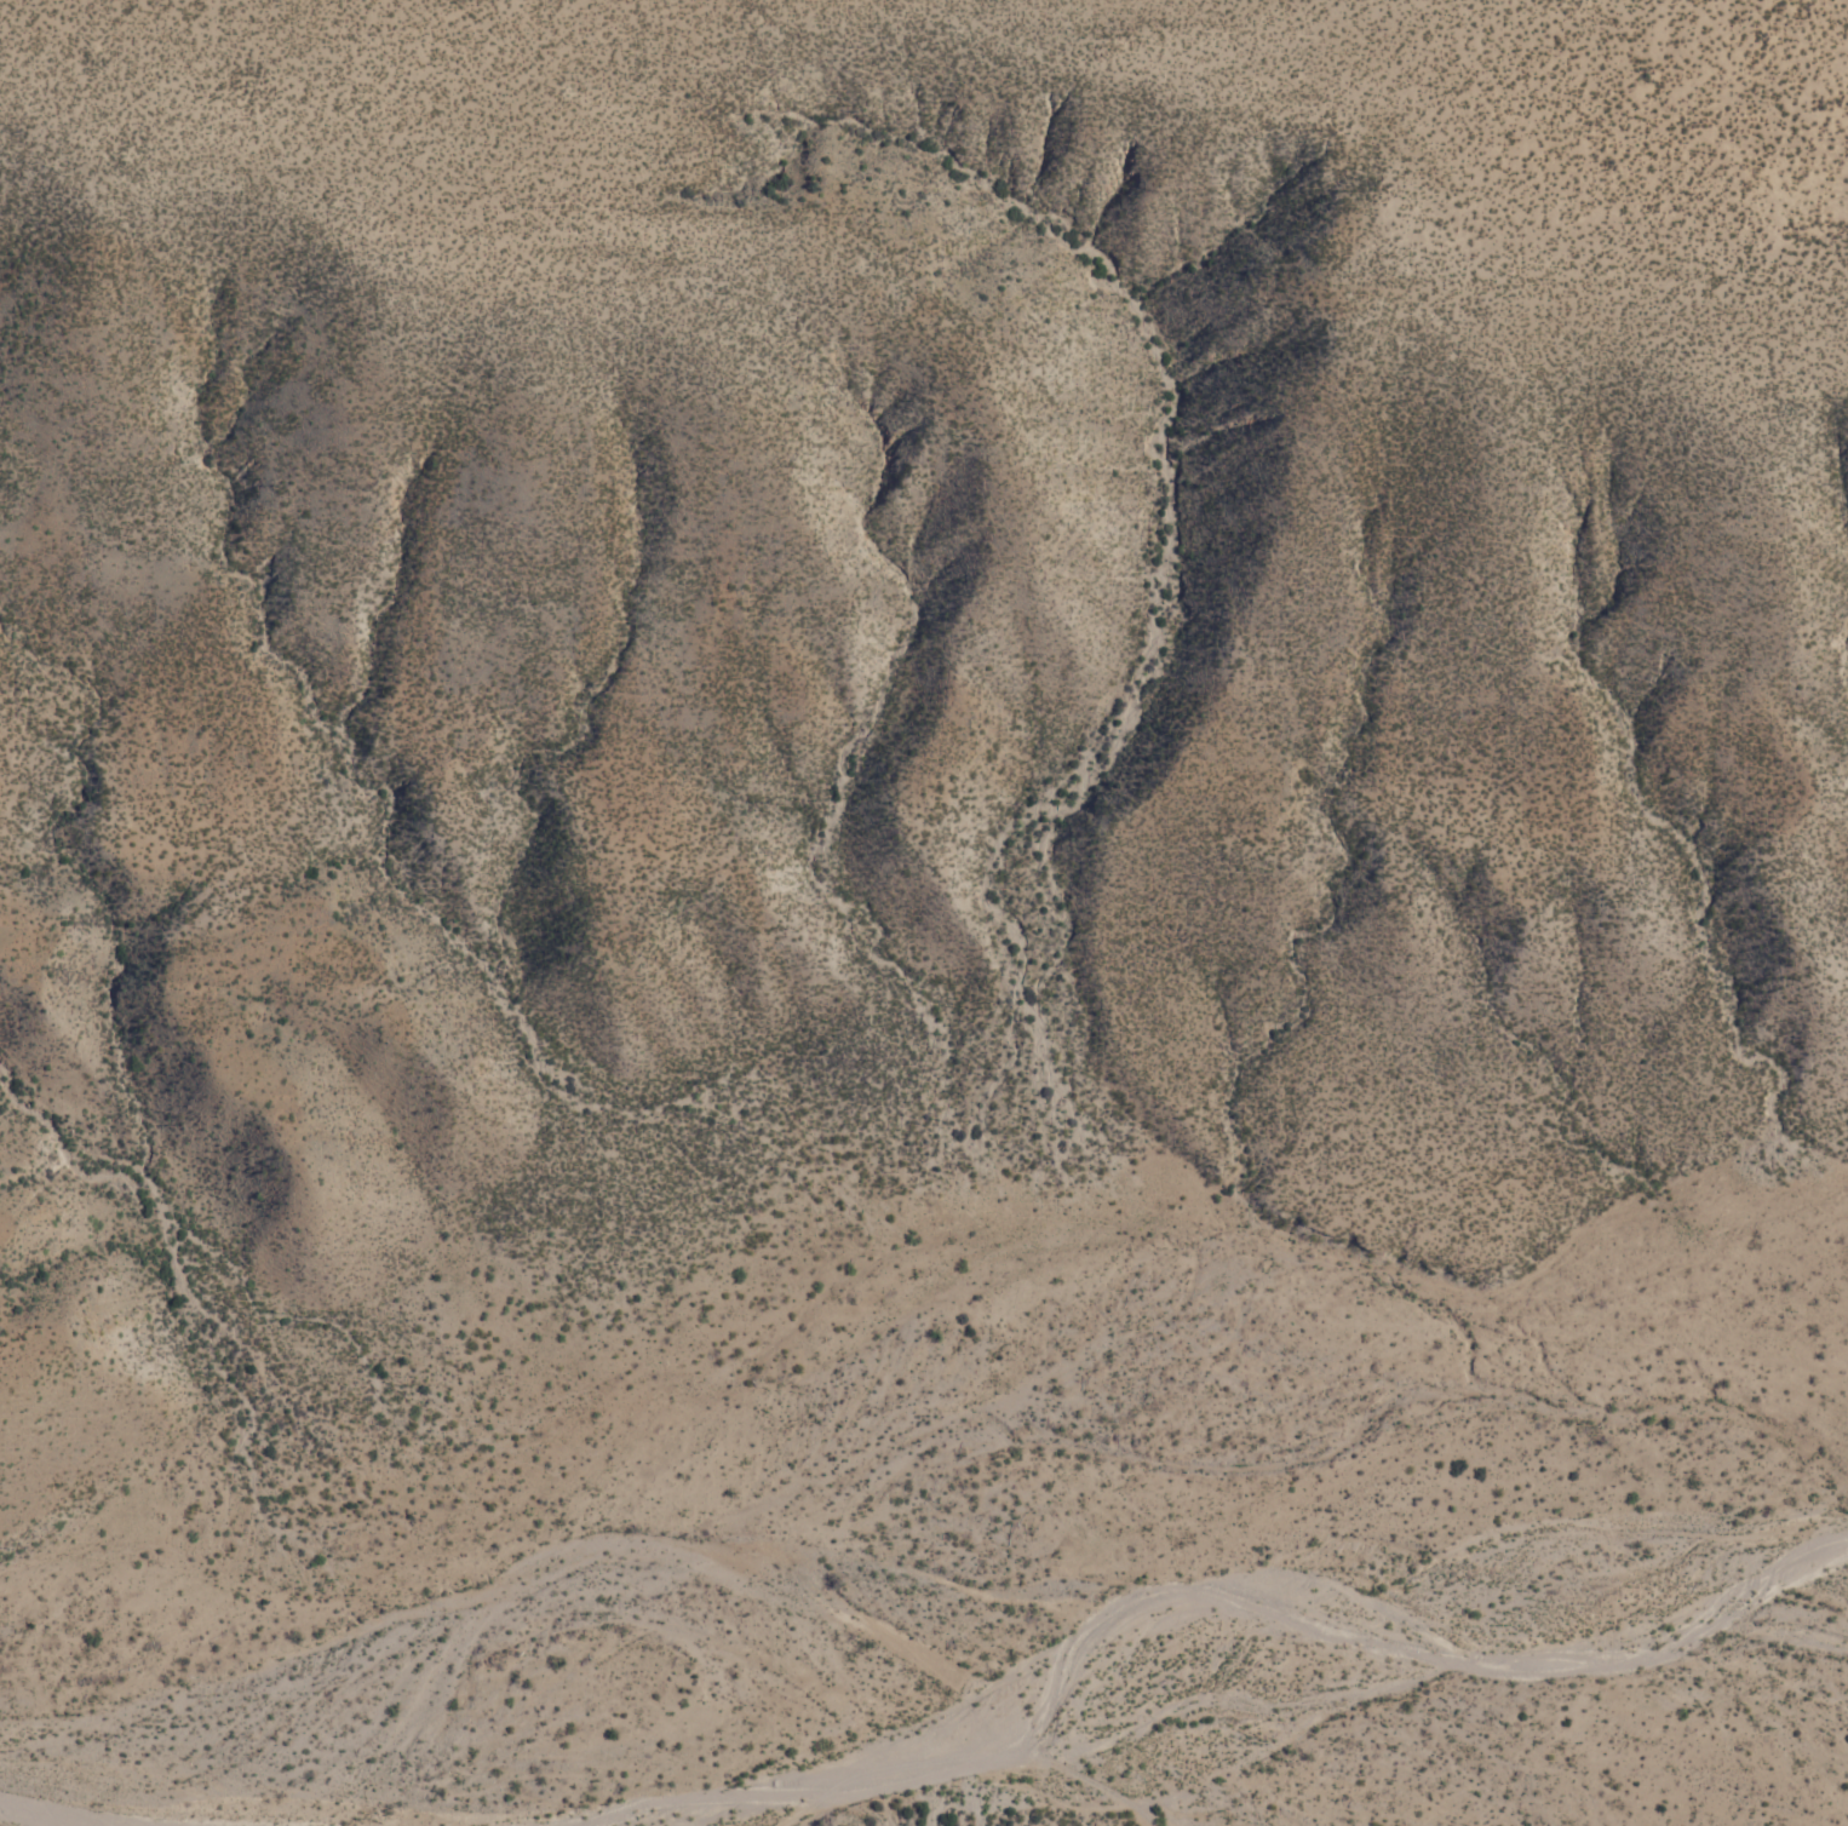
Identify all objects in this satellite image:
road: (954, 1787)

